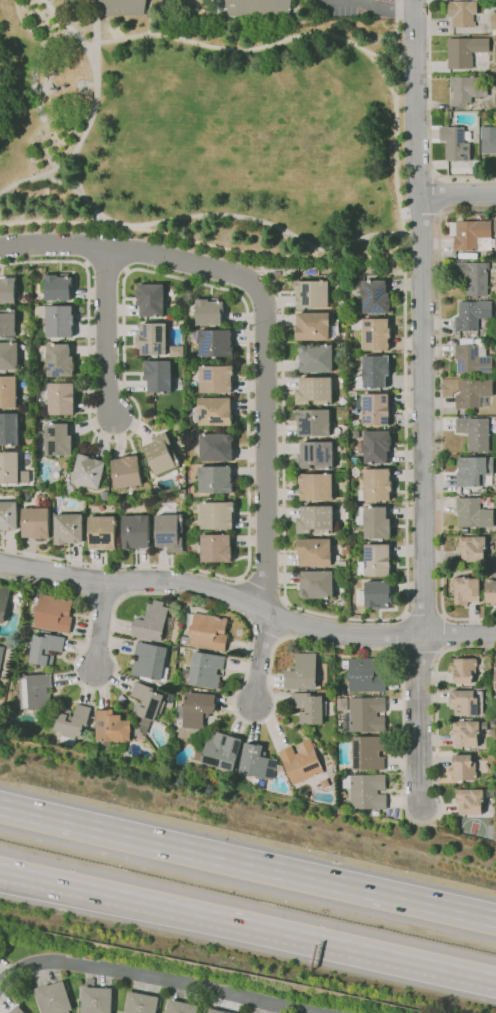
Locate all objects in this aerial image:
road: (220, 6)
road: (295, 6)
parking lot: (343, 6)
road: (388, 6)
building: (121, 7)
building: (258, 8)
building: (461, 13)
road: (149, 17)
building: (493, 22)
road: (68, 25)
road: (92, 25)
road: (42, 42)
road: (225, 47)
building: (464, 51)
road: (375, 52)
road: (381, 71)
road: (33, 86)
building: (467, 89)
building: (494, 100)
road: (428, 118)
park: (208, 132)
building: (488, 139)
building: (457, 142)
road: (79, 143)
building: (476, 167)
road: (62, 181)
road: (457, 194)
road: (222, 214)
road: (61, 222)
building: (495, 224)
building: (472, 234)
road: (313, 252)
road: (267, 253)
building: (474, 277)
building: (56, 287)
road: (215, 287)
building: (7, 289)
building: (312, 294)
building: (374, 296)
building: (151, 299)
building: (338, 303)
road: (404, 306)
building: (173, 311)
building: (209, 312)
building: (472, 314)
building: (342, 315)
road: (418, 317)
road: (264, 318)
building: (57, 319)
building: (8, 322)
building: (310, 325)
building: (374, 332)
road: (108, 333)
building: (192, 335)
building: (153, 338)
building: (215, 343)
building: (177, 351)
building: (9, 356)
building: (473, 356)
building: (317, 358)
building: (57, 360)
building: (376, 370)
building: (495, 373)
building: (159, 375)
building: (216, 378)
building: (315, 390)
building: (8, 392)
building: (474, 393)
building: (353, 395)
building: (57, 398)
building: (376, 409)
building: (215, 411)
road: (282, 411)
road: (440, 413)
building: (196, 418)
building: (41, 421)
building: (314, 422)
building: (356, 423)
building: (9, 429)
building: (475, 432)
building: (59, 439)
building: (215, 446)
building: (375, 446)
building: (317, 454)
building: (162, 456)
building: (356, 461)
building: (66, 465)
building: (9, 467)
building: (88, 471)
building: (127, 471)
building: (474, 471)
building: (355, 472)
building: (338, 477)
building: (215, 479)
building: (377, 485)
building: (55, 486)
building: (316, 486)
building: (68, 487)
building: (105, 495)
building: (182, 495)
building: (346, 500)
building: (473, 513)
building: (217, 515)
building: (8, 516)
building: (316, 519)
building: (37, 522)
building: (377, 522)
building: (170, 528)
building: (68, 529)
building: (136, 531)
building: (102, 532)
building: (193, 539)
building: (216, 548)
building: (473, 548)
building: (345, 549)
building: (315, 551)
building: (376, 560)
building: (343, 564)
building: (317, 584)
building: (467, 590)
building: (491, 590)
road: (210, 591)
building: (376, 594)
building: (4, 602)
building: (14, 606)
building: (54, 614)
road: (342, 618)
building: (154, 623)
road: (98, 626)
building: (206, 631)
road: (457, 634)
building: (44, 649)
building: (1, 654)
building: (150, 661)
road: (259, 662)
building: (204, 670)
building: (464, 670)
building: (303, 672)
building: (365, 674)
building: (495, 676)
road: (272, 693)
building: (35, 695)
building: (149, 701)
building: (467, 702)
building: (310, 707)
building: (196, 709)
building: (364, 714)
building: (71, 723)
road: (418, 723)
building: (111, 728)
building: (136, 729)
building: (466, 732)
building: (219, 751)
building: (368, 753)
building: (257, 762)
building: (301, 762)
building: (463, 767)
building: (366, 791)
building: (470, 800)
building: (375, 813)
road: (248, 865)
road: (248, 924)
road: (153, 978)
building: (55, 998)
building: (98, 999)
building: (142, 1003)
building: (183, 1007)
building: (17, 1009)
building: (217, 1010)

